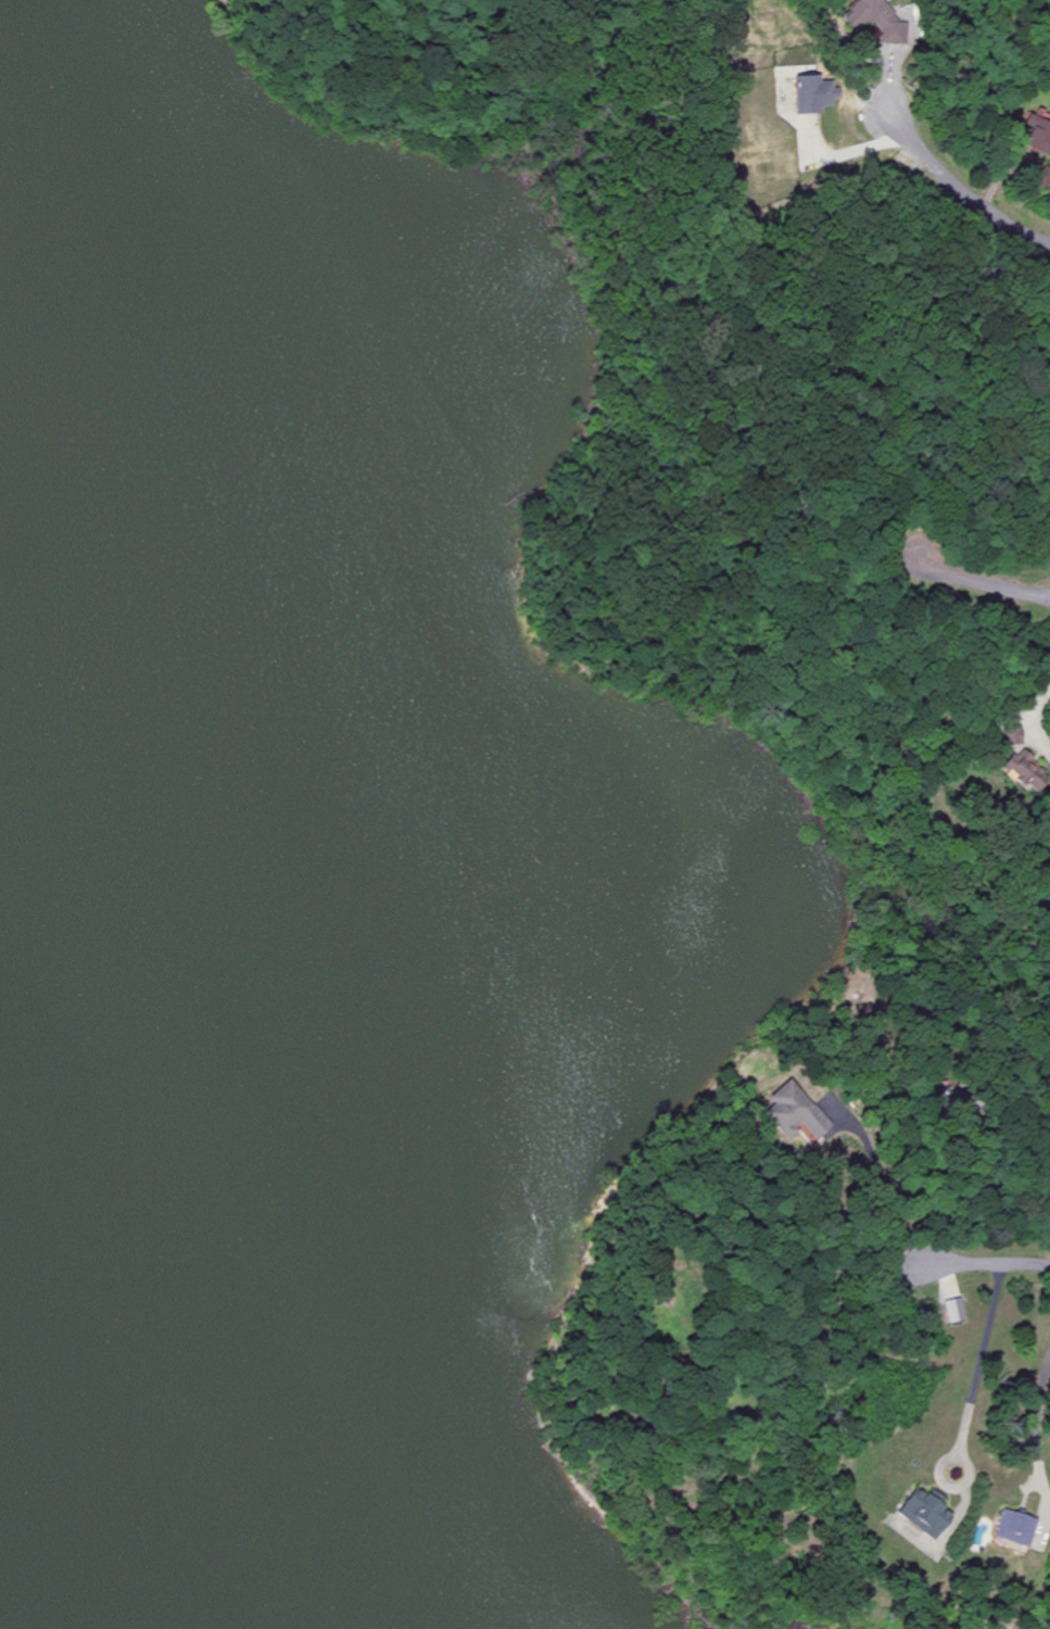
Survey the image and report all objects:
building: (814, 93)
building: (1041, 135)
road: (966, 195)
road: (989, 588)
road: (1030, 765)
building: (1026, 772)
building: (795, 1110)
road: (988, 1264)
building: (954, 1309)
road: (969, 1409)
building: (925, 1511)
building: (1015, 1527)

